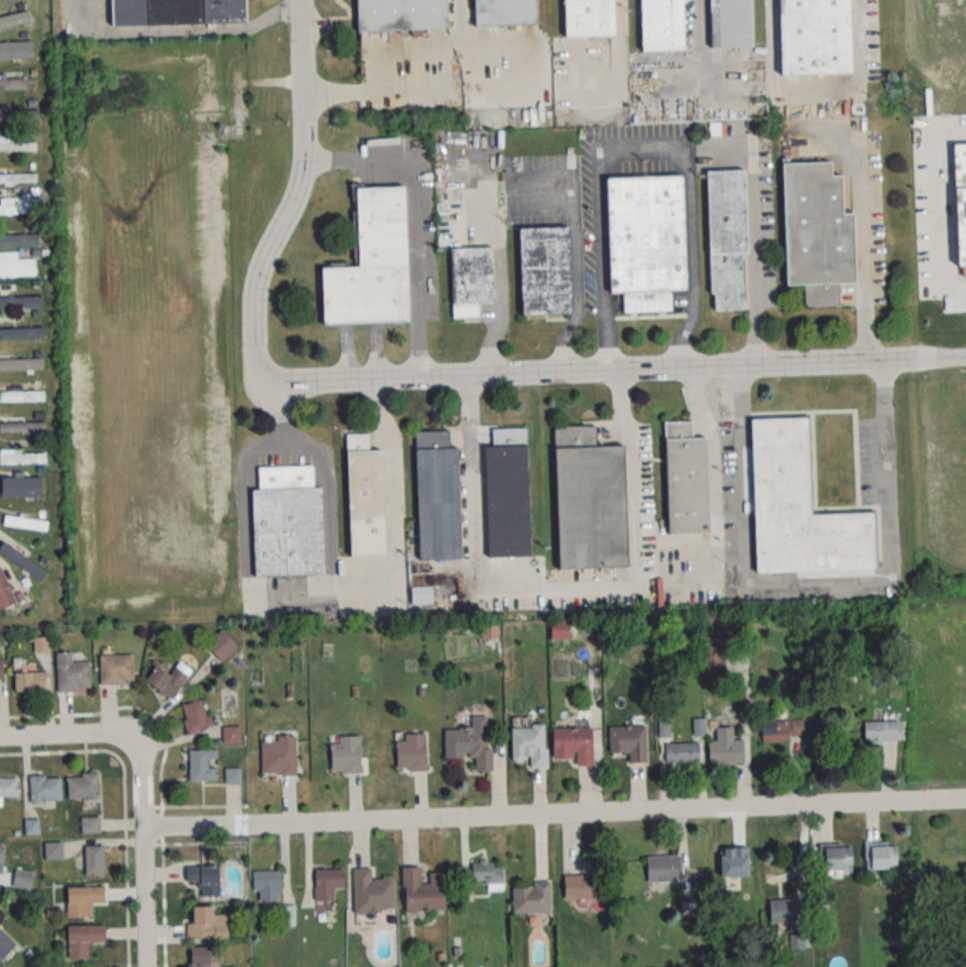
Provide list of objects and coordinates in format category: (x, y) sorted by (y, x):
road: (460, 4)
building: (179, 11)
building: (509, 12)
building: (405, 15)
building: (14, 17)
building: (592, 18)
building: (665, 24)
building: (736, 24)
road: (174, 33)
building: (818, 36)
road: (697, 40)
road: (377, 48)
building: (16, 53)
road: (619, 53)
building: (18, 83)
road: (814, 94)
building: (18, 113)
road: (642, 144)
building: (19, 146)
building: (18, 178)
building: (964, 189)
road: (295, 191)
building: (18, 205)
road: (935, 205)
road: (422, 207)
building: (19, 233)
building: (822, 233)
building: (730, 239)
building: (648, 240)
road: (576, 259)
road: (755, 263)
building: (377, 264)
building: (18, 268)
road: (868, 269)
building: (549, 270)
building: (473, 279)
building: (21, 298)
building: (23, 332)
building: (21, 364)
road: (615, 374)
building: (23, 395)
building: (23, 426)
building: (24, 459)
building: (690, 477)
building: (27, 486)
road: (715, 490)
building: (509, 496)
building: (367, 497)
building: (441, 498)
road: (473, 498)
road: (328, 500)
building: (594, 500)
road: (636, 505)
building: (803, 507)
building: (292, 521)
building: (27, 523)
building: (23, 562)
road: (460, 568)
road: (819, 577)
road: (296, 592)
building: (7, 593)
building: (419, 595)
building: (558, 629)
building: (220, 645)
building: (115, 669)
building: (0, 671)
building: (71, 674)
building: (167, 679)
building: (28, 681)
building: (193, 716)
building: (780, 730)
building: (879, 731)
building: (230, 735)
road: (64, 738)
building: (469, 742)
building: (628, 742)
building: (528, 743)
building: (572, 745)
building: (724, 748)
building: (410, 752)
building: (681, 753)
building: (344, 754)
building: (277, 756)
building: (201, 765)
building: (231, 775)
building: (81, 786)
building: (8, 787)
building: (44, 788)
road: (554, 816)
building: (89, 824)
building: (51, 851)
road: (142, 855)
building: (880, 856)
building: (836, 858)
building: (0, 859)
building: (93, 860)
building: (660, 868)
building: (487, 875)
building: (203, 878)
building: (21, 879)
building: (585, 883)
building: (266, 884)
building: (326, 887)
building: (421, 890)
building: (371, 892)
building: (530, 899)
building: (82, 900)
building: (780, 910)
building: (204, 923)
building: (82, 939)
building: (4, 944)
building: (198, 957)

